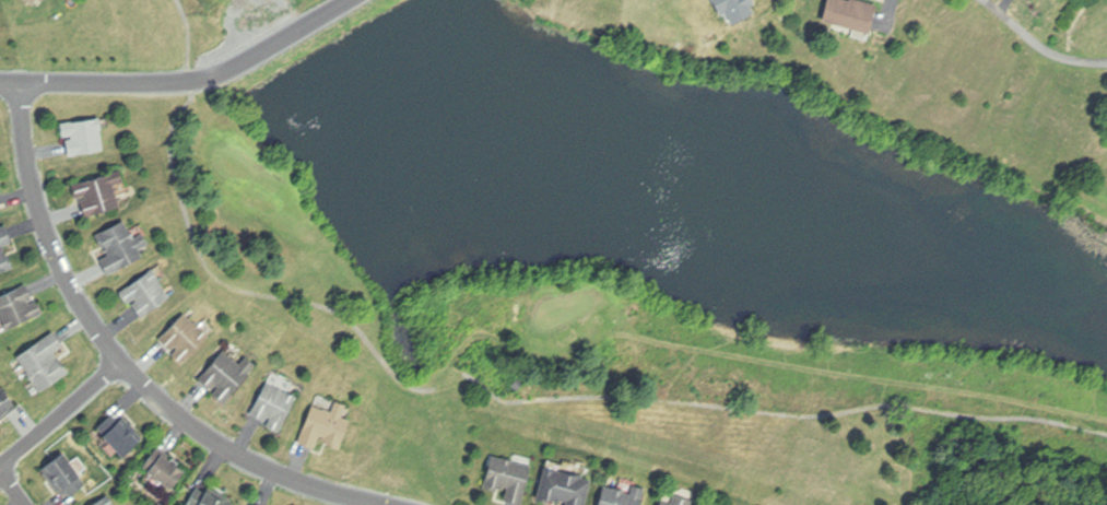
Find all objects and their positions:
building: (31, 1)
building: (852, 13)
road: (1038, 45)
road: (185, 81)
building: (84, 134)
building: (98, 191)
building: (0, 207)
park: (620, 243)
building: (121, 245)
building: (4, 249)
building: (146, 293)
building: (17, 305)
building: (185, 337)
road: (122, 360)
building: (44, 362)
building: (227, 374)
building: (7, 403)
building: (274, 406)
road: (62, 415)
building: (326, 426)
building: (118, 434)
building: (164, 469)
building: (66, 473)
building: (510, 475)
road: (14, 485)
building: (565, 485)
building: (623, 495)
building: (208, 498)
building: (678, 500)
building: (105, 501)
building: (252, 504)
building: (254, 504)

